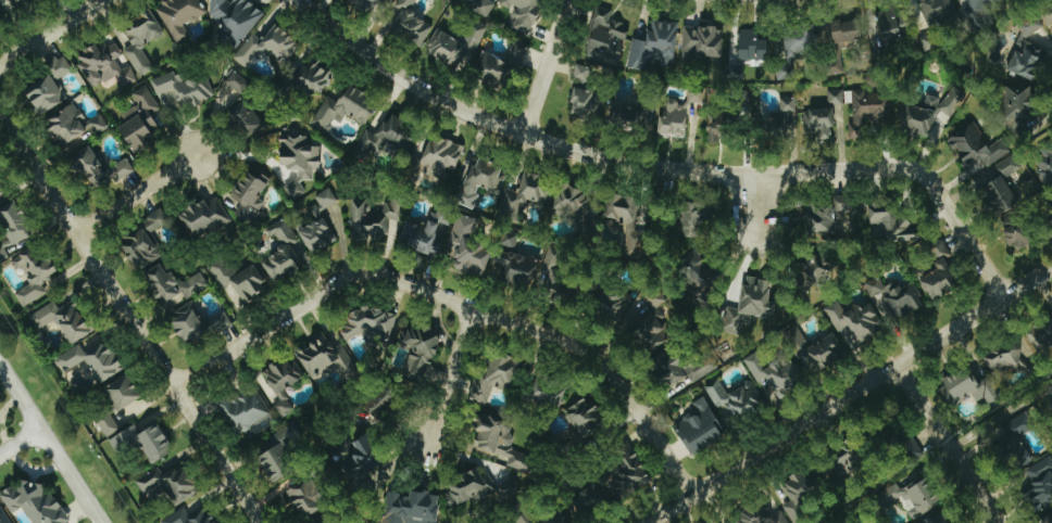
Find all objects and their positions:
building: (15, 2)
building: (978, 3)
building: (370, 4)
building: (521, 14)
building: (178, 16)
building: (1047, 16)
building: (234, 18)
building: (935, 18)
building: (409, 24)
road: (49, 31)
building: (847, 31)
building: (604, 38)
building: (140, 41)
building: (798, 41)
building: (454, 43)
building: (653, 46)
building: (751, 46)
building: (266, 47)
building: (1025, 53)
building: (832, 62)
building: (103, 65)
building: (497, 65)
road: (544, 66)
building: (59, 67)
building: (579, 73)
building: (312, 76)
building: (236, 82)
building: (180, 89)
building: (43, 94)
building: (832, 97)
building: (166, 98)
building: (343, 109)
building: (1017, 109)
building: (866, 110)
building: (606, 111)
building: (926, 113)
building: (676, 115)
building: (785, 115)
building: (247, 117)
building: (139, 120)
building: (819, 123)
building: (96, 124)
building: (719, 126)
building: (66, 128)
building: (383, 139)
building: (981, 152)
building: (440, 158)
building: (298, 162)
road: (663, 167)
building: (96, 170)
building: (1044, 174)
building: (479, 180)
building: (1, 193)
road: (135, 193)
building: (525, 193)
building: (999, 195)
building: (247, 196)
building: (572, 201)
road: (756, 202)
building: (844, 204)
building: (694, 217)
building: (374, 219)
building: (13, 221)
building: (625, 222)
building: (317, 224)
building: (891, 225)
building: (422, 231)
building: (1016, 232)
building: (142, 241)
building: (466, 246)
building: (281, 253)
building: (514, 261)
building: (814, 265)
building: (32, 272)
building: (702, 272)
building: (553, 273)
building: (939, 275)
building: (238, 278)
building: (172, 283)
building: (896, 296)
road: (455, 301)
building: (748, 304)
road: (129, 319)
building: (63, 320)
building: (654, 320)
building: (186, 321)
building: (366, 323)
building: (1041, 334)
building: (819, 353)
building: (419, 355)
building: (323, 356)
building: (1010, 359)
building: (91, 360)
building: (502, 369)
building: (687, 369)
road: (450, 372)
building: (775, 374)
building: (280, 383)
building: (968, 386)
building: (547, 390)
building: (121, 391)
road: (849, 394)
building: (732, 398)
building: (380, 399)
building: (242, 409)
building: (583, 416)
road: (1001, 417)
building: (105, 424)
building: (698, 426)
building: (1013, 436)
road: (20, 441)
building: (141, 441)
road: (51, 443)
building: (500, 443)
road: (947, 443)
building: (279, 451)
building: (362, 464)
building: (626, 472)
building: (167, 483)
building: (1039, 484)
building: (477, 489)
building: (913, 495)
building: (305, 497)
building: (797, 497)
building: (589, 498)
building: (34, 501)
building: (412, 508)
building: (762, 514)
building: (2, 516)
building: (189, 516)
building: (540, 518)
building: (938, 518)
building: (324, 519)
building: (1048, 519)
building: (360, 522)

